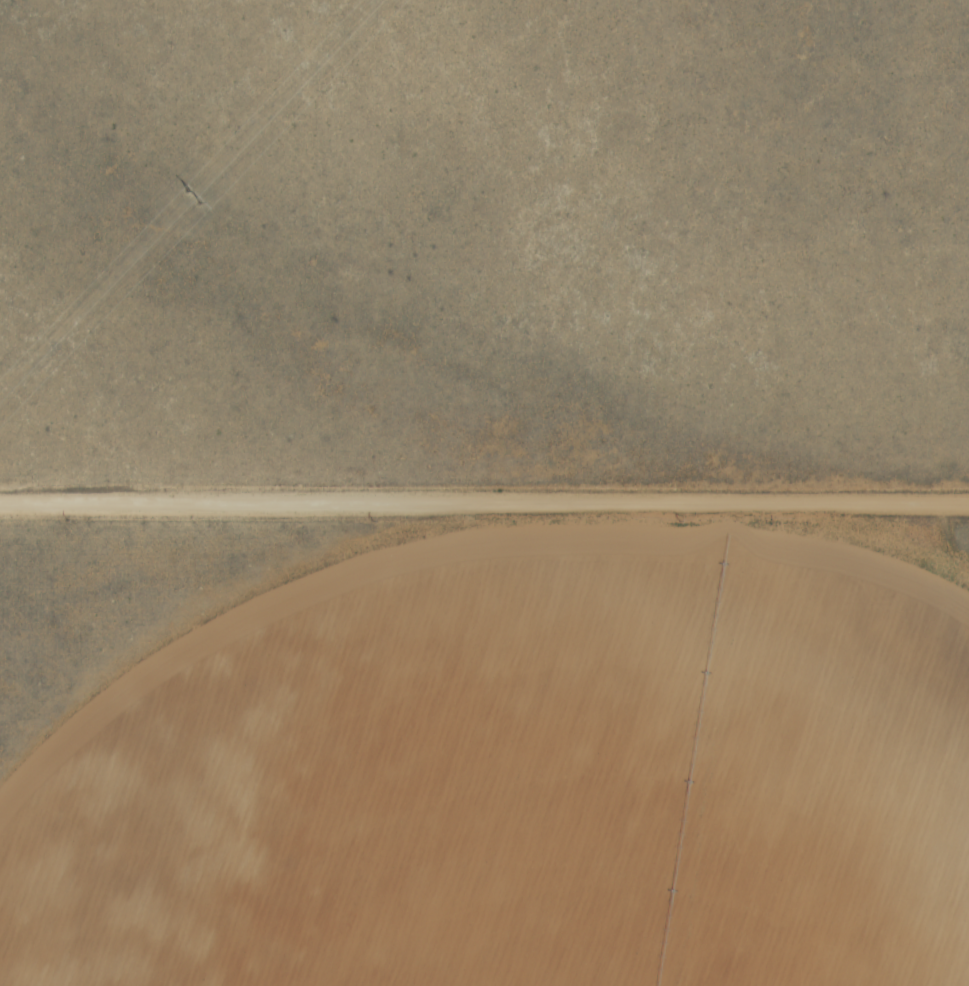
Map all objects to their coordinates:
power tower: (192, 195)
road: (484, 509)

